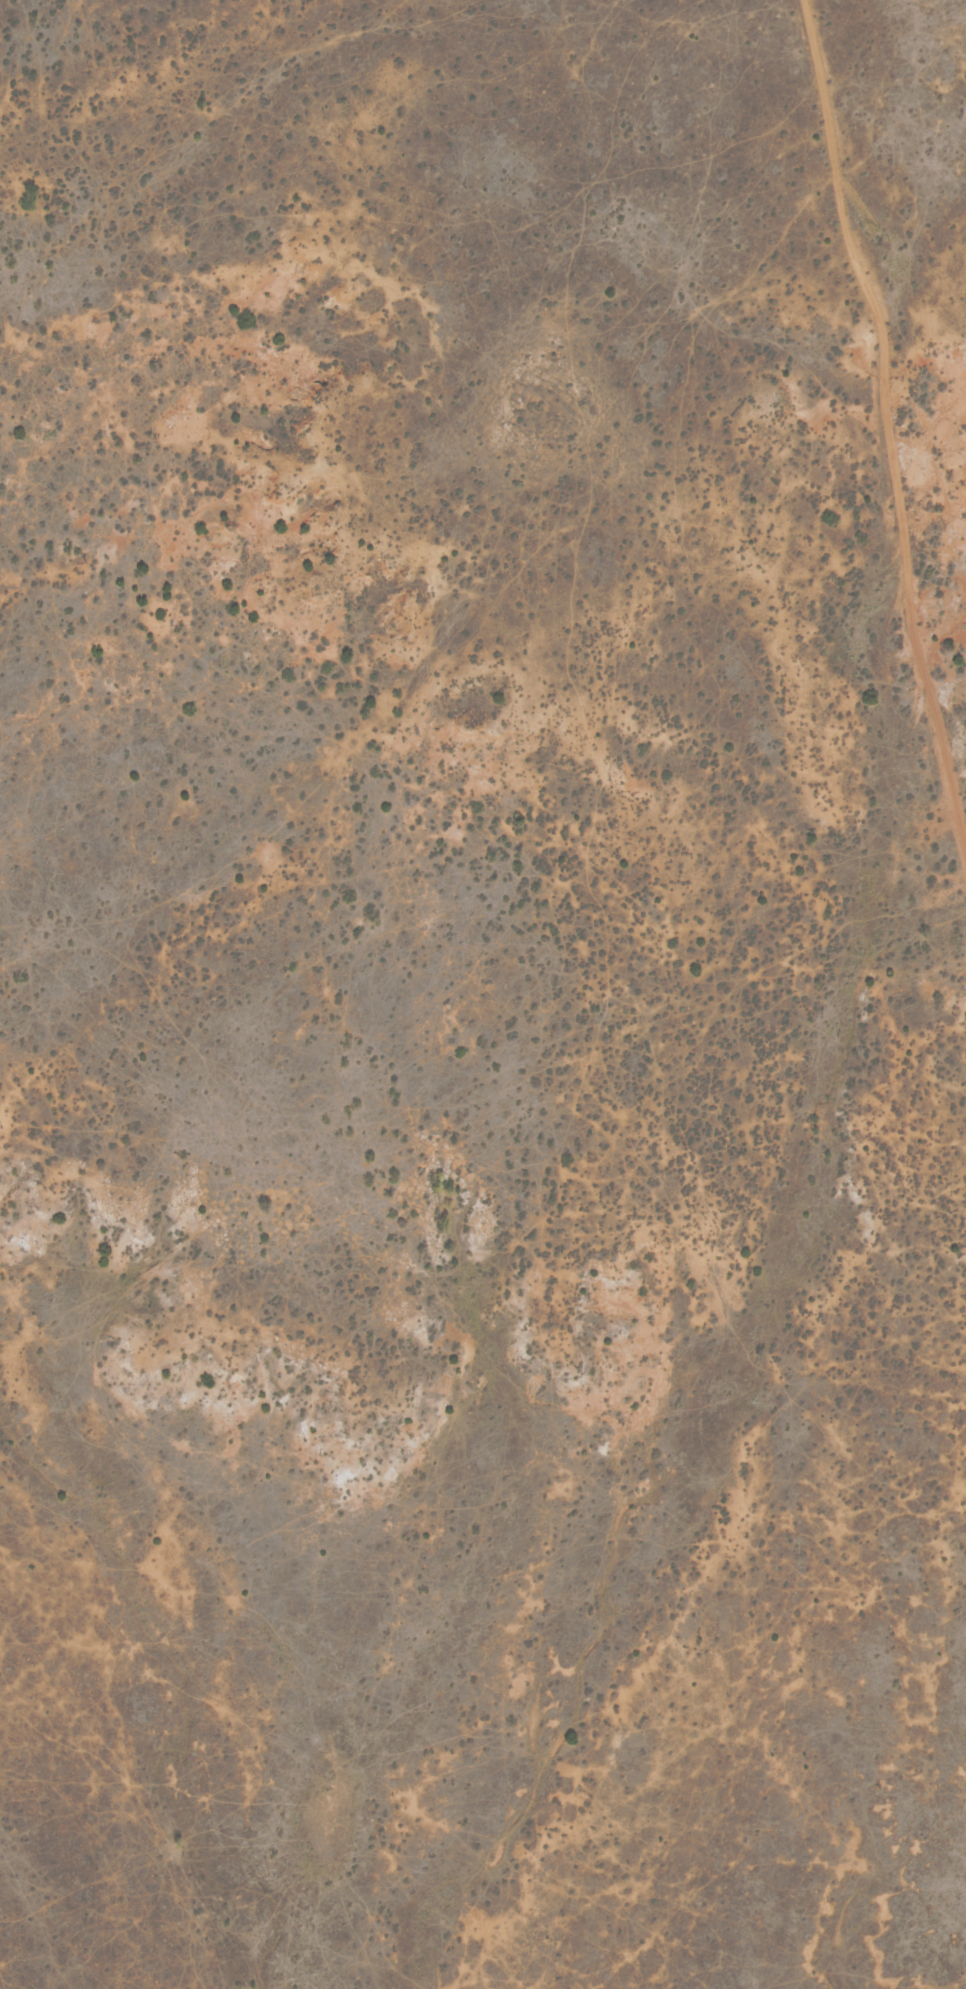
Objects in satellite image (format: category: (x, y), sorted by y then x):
road: (883, 417)

